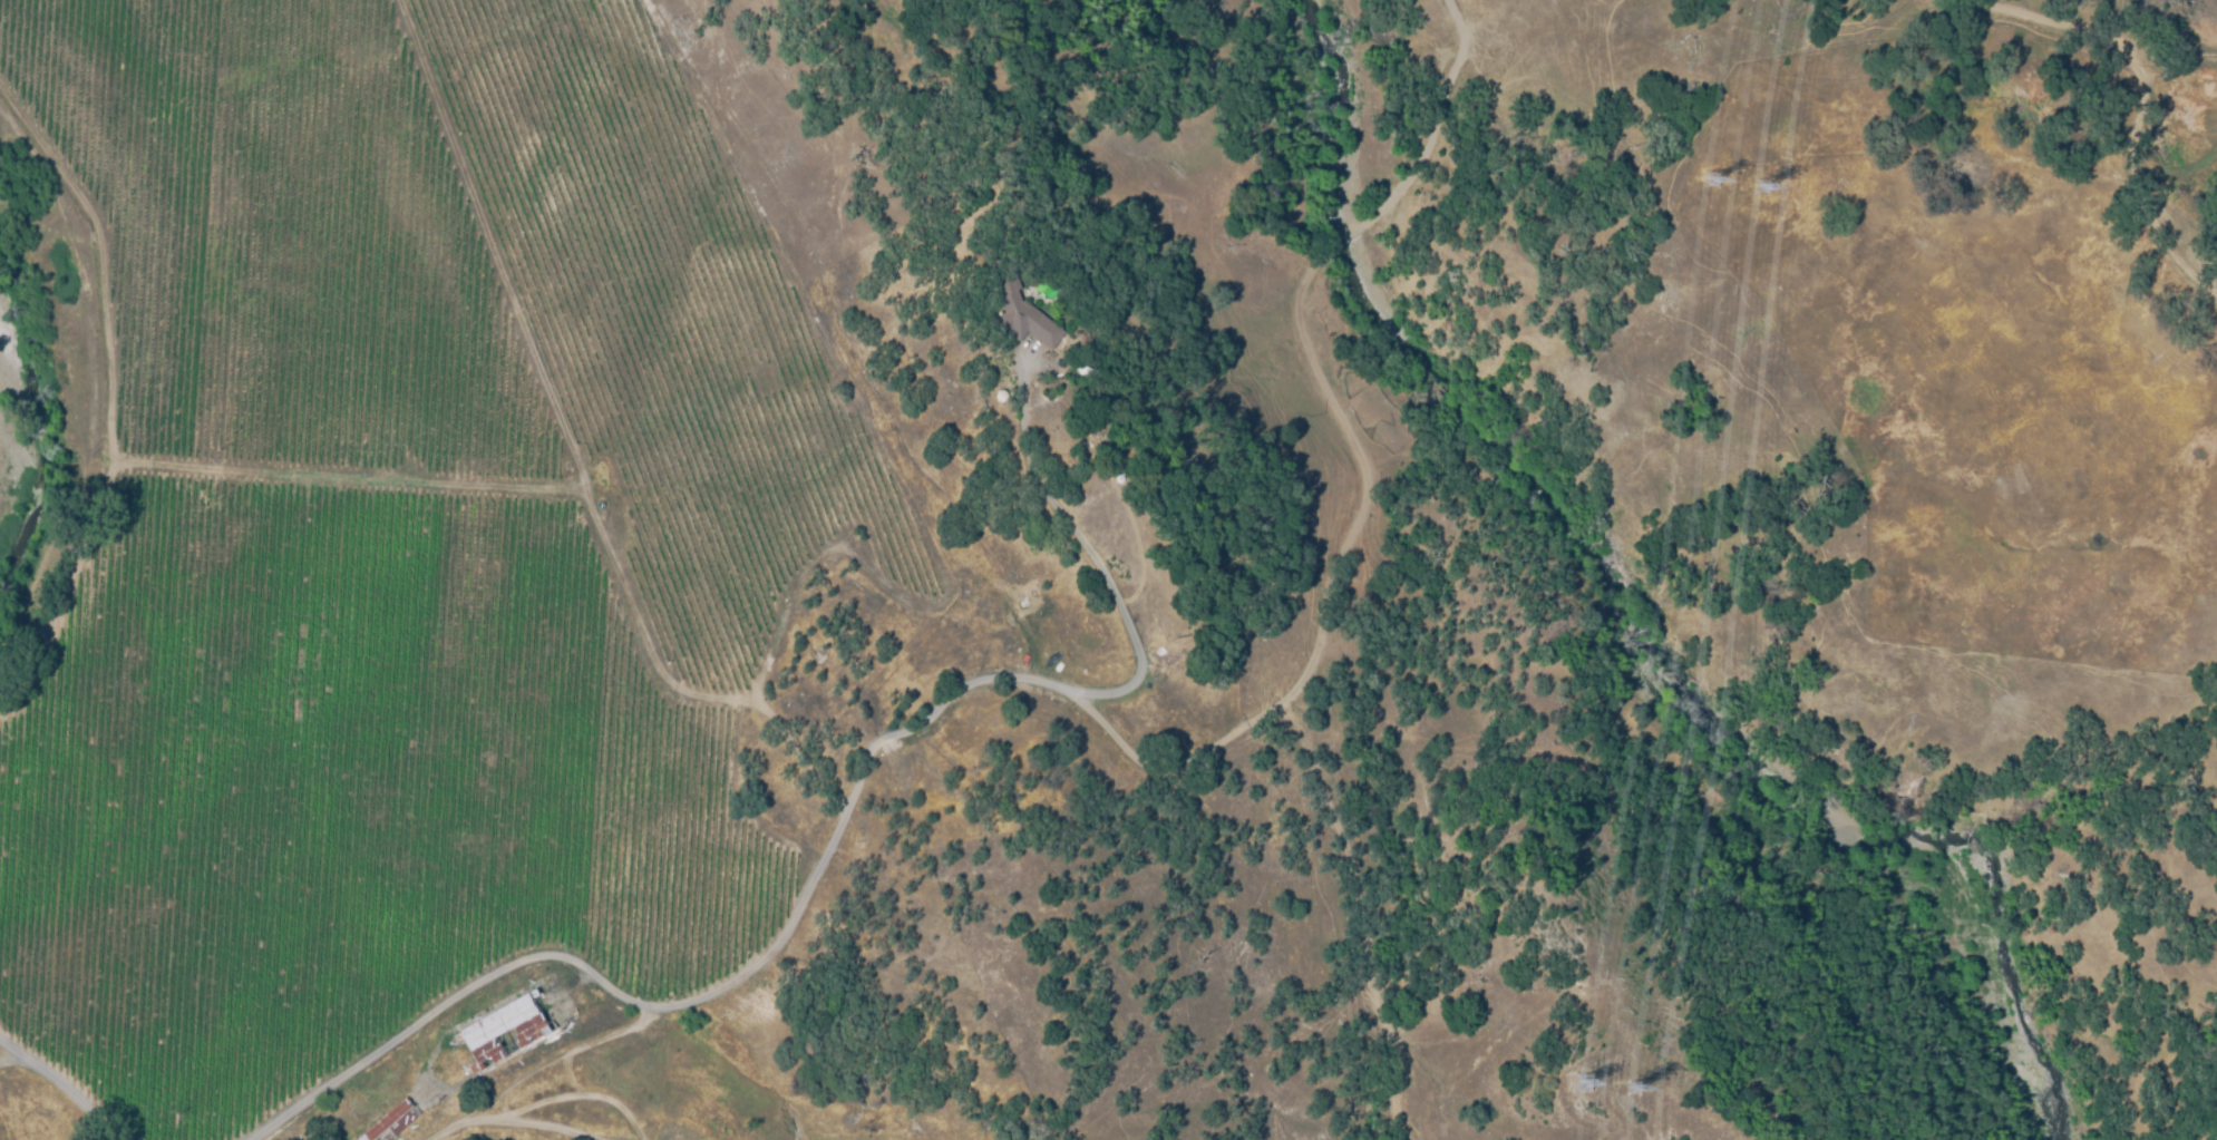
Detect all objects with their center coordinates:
power tower: (1713, 183)
power tower: (1762, 193)
building: (1019, 310)
road: (1091, 552)
road: (717, 992)
building: (507, 1030)
road: (532, 1070)
power tower: (1584, 1084)
road: (60, 1089)
power tower: (1633, 1090)
building: (391, 1122)

